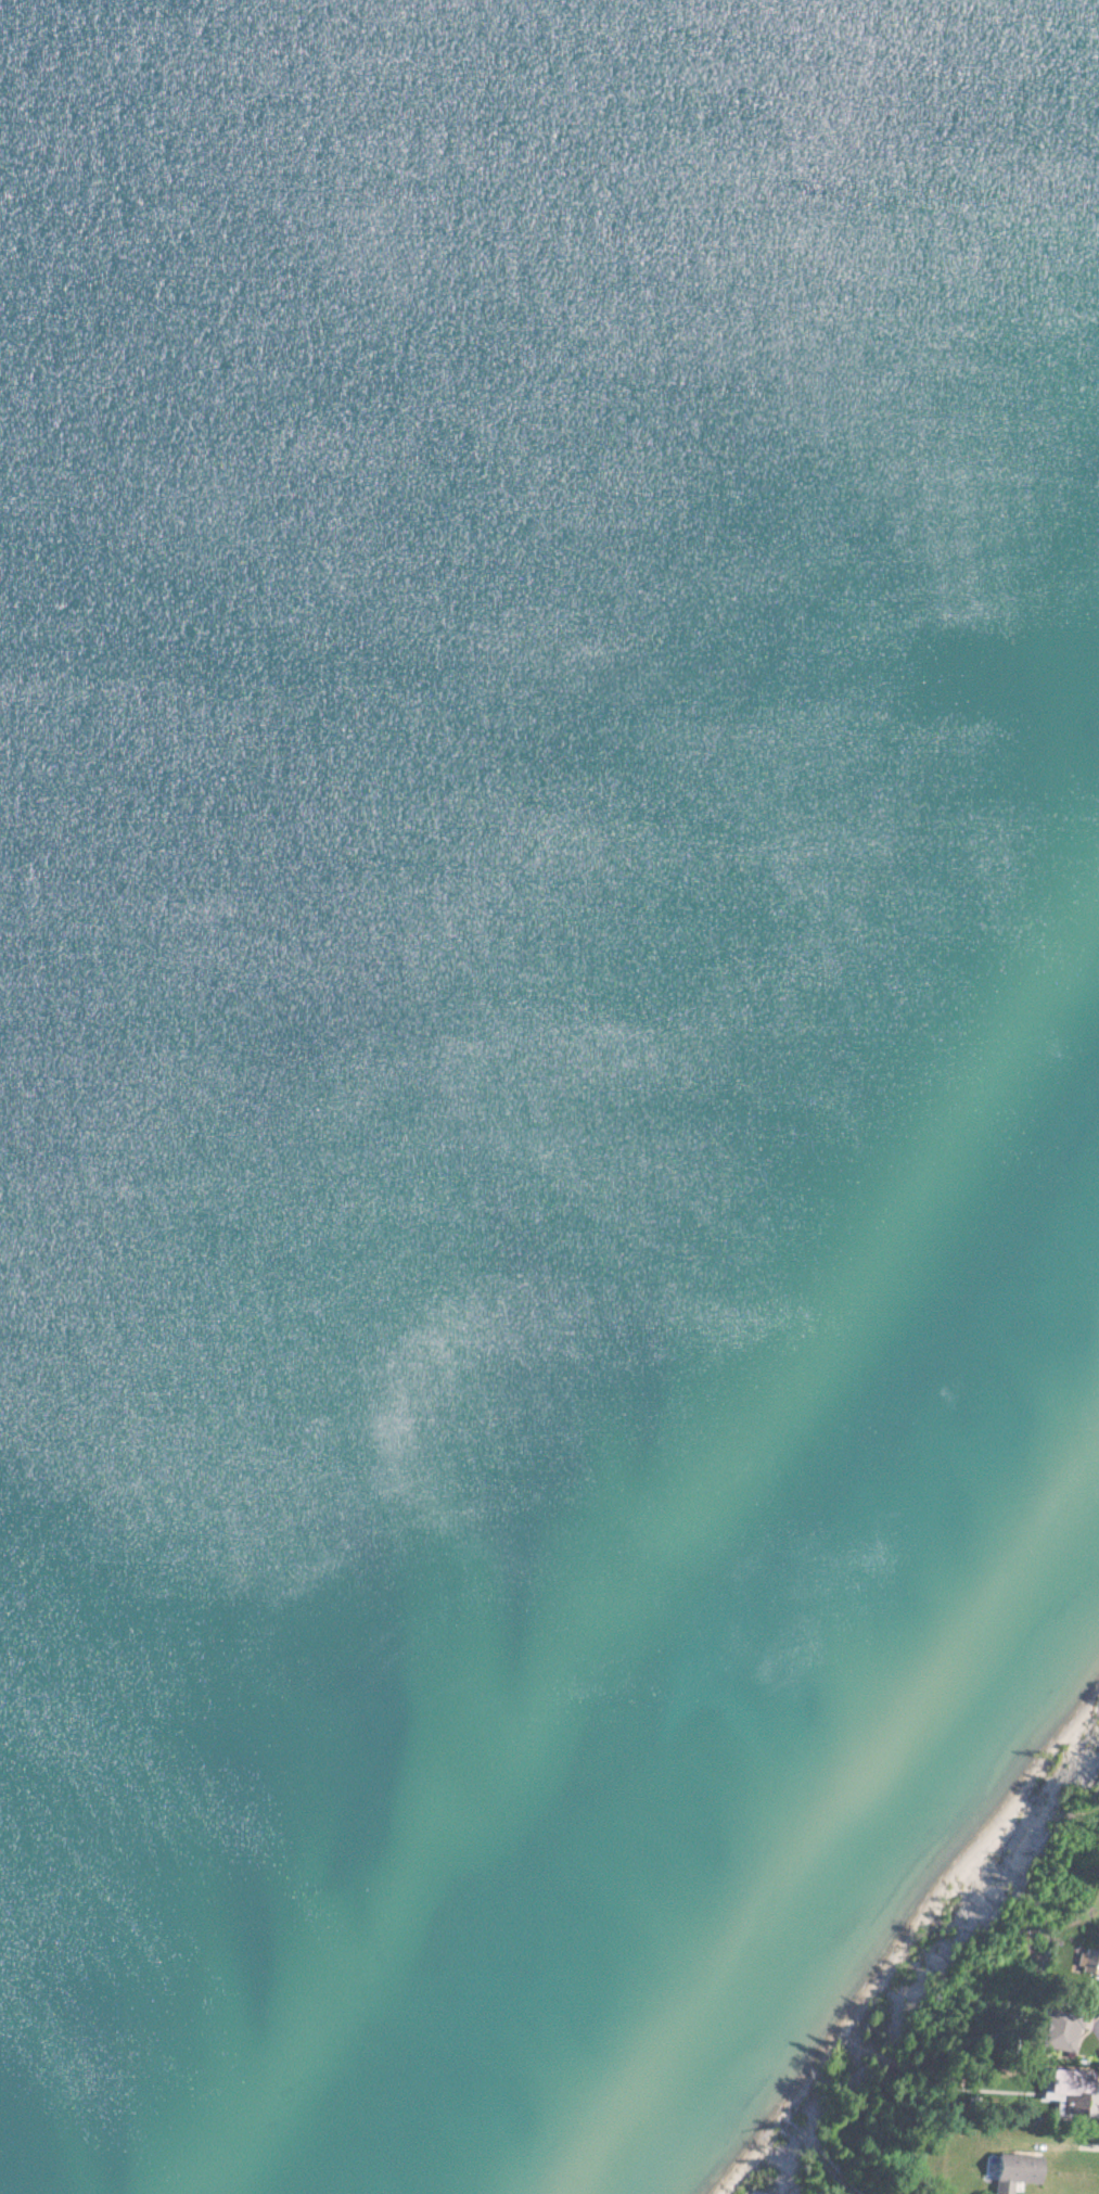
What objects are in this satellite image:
building: (1085, 1963)
building: (1055, 2032)
building: (1098, 2068)
building: (1056, 2091)
road: (1097, 2144)
building: (1009, 2172)

